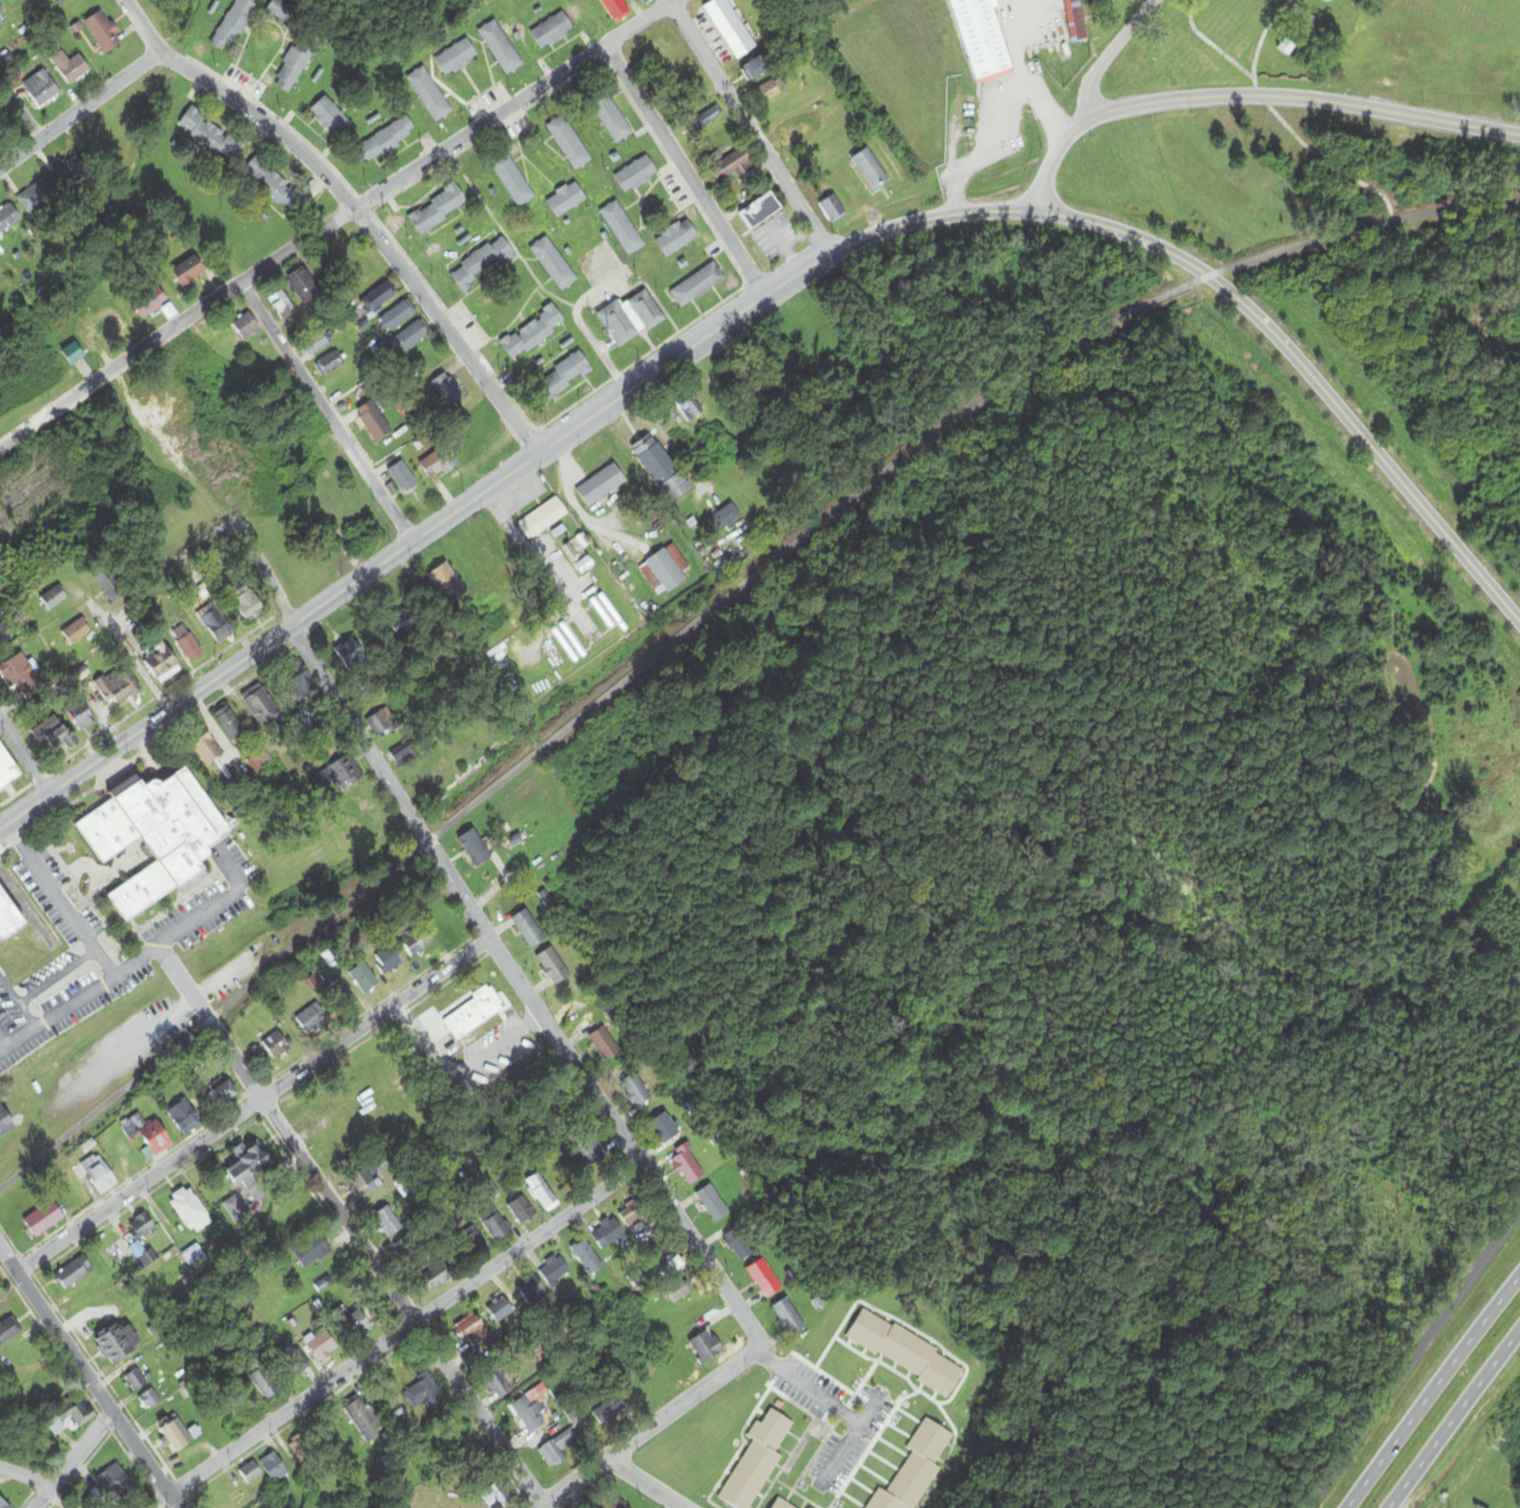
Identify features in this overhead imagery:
building: (11, 0)
building: (1330, 1)
building: (616, 9)
building: (1, 12)
building: (1073, 21)
building: (233, 24)
building: (730, 28)
building: (1364, 30)
building: (550, 32)
building: (103, 33)
building: (990, 35)
road: (1209, 44)
building: (500, 48)
road: (1106, 52)
building: (1186, 54)
building: (456, 58)
building: (1452, 66)
building: (293, 67)
building: (70, 68)
building: (757, 69)
building: (41, 89)
building: (770, 90)
building: (426, 92)
road: (1248, 95)
road: (79, 112)
road: (18, 114)
building: (330, 118)
road: (992, 118)
building: (611, 119)
building: (705, 120)
road: (1284, 126)
road: (750, 131)
building: (795, 135)
building: (210, 137)
building: (387, 141)
building: (568, 143)
building: (733, 166)
building: (870, 170)
road: (687, 172)
building: (68, 173)
building: (636, 175)
building: (511, 180)
building: (273, 186)
building: (36, 197)
building: (565, 200)
road: (349, 204)
building: (831, 209)
building: (439, 210)
building: (761, 211)
building: (9, 218)
road: (340, 221)
building: (620, 227)
building: (674, 239)
building: (553, 264)
building: (482, 265)
building: (190, 272)
building: (696, 286)
building: (304, 288)
building: (378, 298)
building: (150, 302)
building: (282, 306)
building: (397, 317)
building: (630, 319)
building: (246, 326)
building: (103, 330)
building: (532, 333)
building: (412, 337)
building: (317, 344)
building: (72, 354)
building: (329, 364)
road: (1307, 374)
building: (563, 379)
building: (448, 391)
building: (688, 406)
road: (326, 411)
building: (374, 422)
building: (439, 463)
building: (661, 469)
building: (402, 478)
road: (499, 479)
building: (601, 486)
building: (728, 518)
building: (542, 519)
road: (820, 521)
road: (246, 543)
building: (664, 570)
building: (116, 585)
building: (447, 585)
building: (53, 599)
building: (248, 603)
building: (0, 610)
building: (401, 623)
building: (216, 624)
building: (76, 632)
building: (4, 634)
building: (187, 644)
building: (350, 652)
road: (129, 657)
building: (160, 660)
building: (16, 673)
building: (302, 683)
building: (116, 686)
road: (158, 694)
building: (260, 705)
building: (79, 713)
building: (230, 724)
building: (304, 724)
building: (381, 725)
building: (53, 735)
road: (149, 746)
building: (205, 747)
building: (402, 756)
road: (24, 757)
building: (7, 770)
building: (338, 776)
road: (38, 778)
road: (15, 793)
building: (158, 839)
building: (474, 850)
road: (58, 900)
building: (9, 922)
building: (529, 931)
building: (417, 942)
road: (139, 959)
building: (387, 962)
building: (553, 968)
road: (53, 976)
building: (364, 980)
road: (519, 985)
building: (338, 996)
road: (16, 1006)
road: (173, 1010)
building: (474, 1015)
building: (311, 1020)
road: (205, 1022)
building: (605, 1044)
road: (1, 1045)
building: (275, 1046)
building: (635, 1090)
building: (225, 1092)
road: (252, 1105)
road: (98, 1110)
building: (184, 1116)
building: (6, 1123)
building: (665, 1129)
building: (149, 1134)
building: (590, 1150)
building: (248, 1163)
building: (687, 1166)
building: (100, 1175)
building: (364, 1183)
building: (542, 1194)
building: (712, 1204)
building: (188, 1208)
building: (522, 1212)
building: (238, 1213)
building: (632, 1215)
building: (386, 1218)
building: (44, 1219)
building: (141, 1227)
road: (347, 1227)
building: (497, 1228)
building: (610, 1231)
building: (476, 1244)
building: (739, 1245)
building: (312, 1251)
building: (193, 1256)
building: (588, 1257)
building: (554, 1272)
building: (73, 1273)
building: (433, 1279)
building: (764, 1279)
building: (531, 1290)
building: (501, 1311)
building: (788, 1318)
building: (353, 1325)
road: (404, 1328)
building: (9, 1331)
building: (471, 1332)
building: (121, 1342)
building: (323, 1346)
building: (706, 1348)
building: (906, 1353)
road: (1411, 1357)
building: (297, 1362)
road: (88, 1378)
building: (135, 1381)
building: (265, 1385)
building: (499, 1386)
road: (806, 1390)
road: (1432, 1391)
building: (421, 1394)
building: (149, 1400)
building: (531, 1409)
building: (611, 1411)
building: (74, 1414)
building: (575, 1418)
building: (363, 1420)
road: (1457, 1425)
road: (651, 1426)
building: (178, 1436)
road: (849, 1440)
building: (300, 1448)
road: (71, 1460)
building: (756, 1461)
building: (274, 1467)
building: (915, 1469)
building: (251, 1475)
road: (25, 1476)
building: (115, 1483)
road: (645, 1483)
building: (222, 1497)
building: (495, 1498)
road: (156, 1499)
building: (609, 1503)
building: (3, 1504)
building: (780, 1505)

